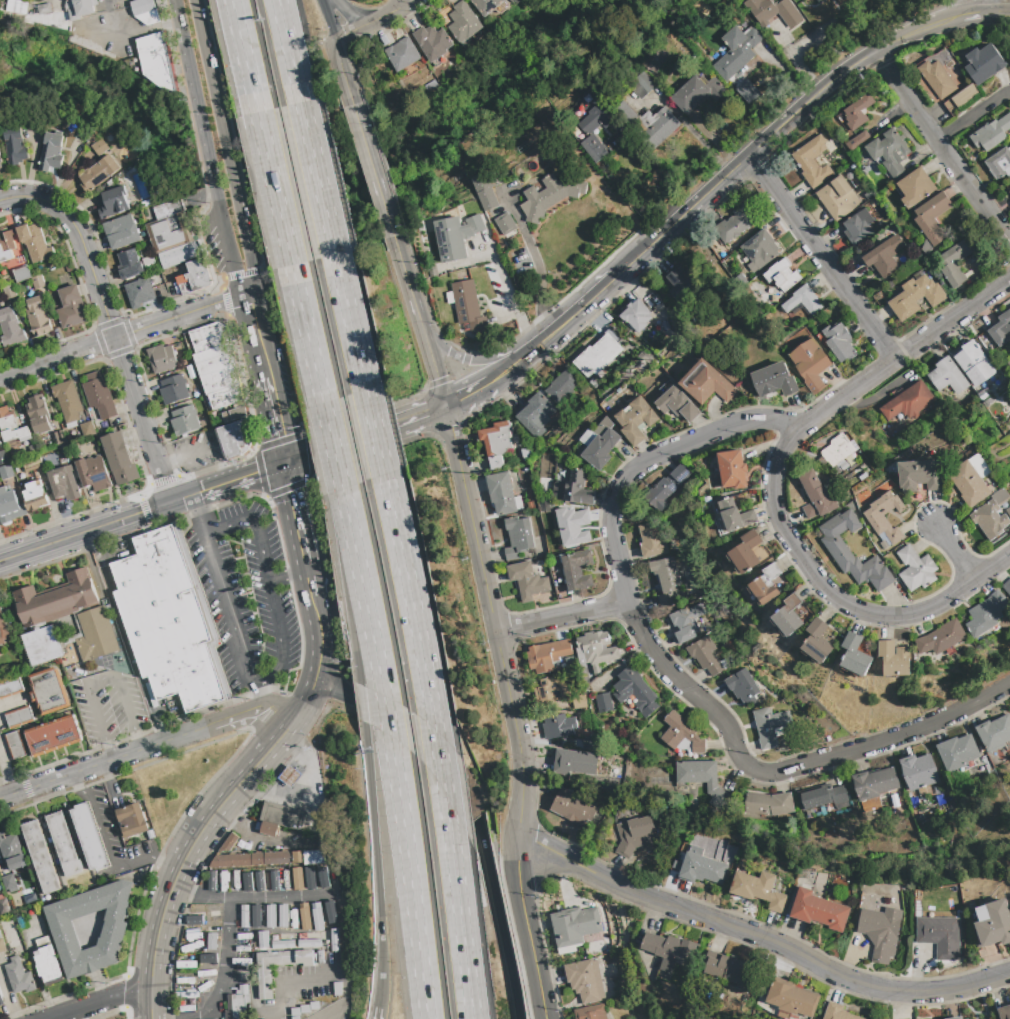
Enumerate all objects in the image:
building: (818, 0)
road: (411, 1)
road: (413, 1)
building: (53, 3)
road: (978, 5)
building: (486, 6)
building: (17, 7)
building: (142, 7)
building: (44, 9)
building: (82, 9)
road: (992, 11)
building: (773, 12)
road: (392, 13)
road: (966, 13)
road: (351, 15)
road: (330, 21)
building: (463, 22)
road: (354, 31)
road: (201, 44)
building: (433, 44)
road: (185, 46)
road: (289, 50)
building: (737, 52)
building: (402, 54)
road: (244, 55)
building: (654, 60)
building: (158, 63)
building: (984, 63)
road: (345, 73)
building: (937, 78)
building: (645, 82)
building: (425, 88)
building: (746, 91)
building: (697, 93)
building: (962, 98)
building: (857, 112)
road: (973, 115)
building: (596, 119)
building: (657, 126)
road: (777, 128)
road: (220, 132)
building: (991, 133)
road: (205, 134)
building: (857, 140)
building: (15, 146)
building: (99, 147)
road: (942, 147)
building: (595, 150)
building: (52, 151)
building: (890, 152)
building: (814, 158)
building: (1, 163)
building: (1000, 165)
road: (372, 170)
road: (657, 171)
building: (98, 174)
road: (318, 178)
building: (915, 187)
road: (274, 188)
building: (1008, 192)
building: (549, 195)
building: (837, 197)
building: (112, 202)
building: (494, 204)
building: (931, 221)
building: (733, 225)
building: (170, 227)
building: (858, 227)
building: (122, 232)
road: (242, 233)
road: (227, 235)
building: (455, 236)
road: (82, 242)
building: (34, 243)
building: (714, 245)
building: (7, 246)
building: (759, 251)
building: (181, 254)
road: (824, 255)
building: (884, 256)
building: (21, 260)
building: (955, 262)
building: (130, 264)
building: (149, 264)
building: (22, 274)
building: (782, 276)
building: (195, 277)
building: (38, 282)
building: (680, 284)
road: (539, 285)
building: (139, 292)
building: (9, 293)
building: (915, 297)
building: (802, 301)
building: (71, 307)
road: (516, 307)
building: (658, 308)
building: (468, 309)
road: (578, 312)
road: (181, 315)
building: (37, 316)
building: (636, 316)
road: (419, 320)
road: (351, 321)
building: (665, 325)
building: (10, 328)
building: (1000, 329)
road: (307, 334)
road: (257, 335)
building: (210, 336)
building: (838, 342)
building: (597, 356)
road: (57, 357)
building: (162, 358)
road: (466, 359)
road: (522, 359)
building: (973, 363)
building: (810, 364)
building: (217, 367)
building: (946, 376)
road: (499, 377)
building: (773, 380)
building: (705, 383)
building: (562, 386)
building: (174, 389)
road: (467, 394)
building: (99, 396)
building: (226, 397)
building: (67, 400)
building: (906, 402)
building: (676, 404)
building: (234, 414)
building: (38, 415)
building: (535, 415)
road: (142, 420)
building: (635, 420)
building: (184, 421)
road: (276, 421)
road: (770, 421)
building: (12, 427)
building: (87, 429)
road: (375, 430)
road: (365, 433)
building: (58, 437)
building: (236, 439)
building: (496, 443)
road: (332, 446)
building: (600, 449)
road: (200, 451)
building: (835, 452)
building: (970, 452)
building: (526, 454)
building: (3, 458)
building: (119, 458)
building: (31, 463)
traffic signals: (286, 463)
building: (843, 466)
building: (731, 469)
building: (6, 472)
building: (94, 473)
building: (920, 475)
building: (862, 476)
road: (242, 477)
building: (973, 481)
building: (64, 483)
building: (666, 487)
building: (578, 489)
building: (558, 491)
building: (502, 494)
building: (36, 496)
building: (816, 496)
building: (10, 506)
road: (195, 510)
road: (295, 512)
building: (992, 515)
building: (732, 516)
building: (877, 521)
road: (99, 526)
building: (573, 526)
building: (518, 537)
building: (651, 540)
building: (884, 544)
building: (836, 547)
road: (955, 550)
building: (746, 552)
building: (916, 569)
building: (576, 570)
road: (309, 579)
building: (527, 580)
building: (667, 580)
road: (271, 586)
building: (765, 586)
building: (1007, 586)
road: (834, 597)
building: (56, 599)
road: (224, 603)
building: (986, 613)
road: (561, 616)
building: (791, 616)
building: (170, 620)
building: (686, 621)
building: (3, 630)
building: (96, 634)
road: (320, 637)
building: (942, 638)
building: (817, 642)
building: (44, 645)
building: (597, 649)
building: (705, 655)
building: (855, 655)
building: (551, 656)
building: (71, 659)
building: (895, 659)
road: (102, 677)
building: (742, 687)
building: (10, 688)
road: (335, 689)
building: (552, 690)
building: (48, 691)
building: (635, 691)
road: (261, 694)
road: (305, 702)
building: (579, 702)
building: (603, 703)
road: (11, 704)
road: (511, 710)
road: (278, 713)
road: (238, 717)
building: (19, 718)
road: (251, 721)
building: (768, 725)
building: (558, 726)
building: (994, 733)
building: (681, 734)
building: (53, 736)
building: (588, 743)
road: (437, 744)
building: (16, 745)
road: (367, 745)
road: (392, 752)
building: (958, 754)
road: (105, 762)
building: (574, 762)
road: (781, 770)
road: (7, 771)
building: (918, 771)
building: (289, 775)
building: (703, 780)
road: (78, 781)
building: (874, 783)
building: (821, 796)
building: (768, 804)
building: (572, 807)
building: (282, 815)
building: (132, 820)
building: (267, 828)
building: (635, 834)
building: (90, 837)
road: (267, 840)
building: (229, 843)
building: (64, 844)
road: (107, 844)
building: (12, 851)
road: (557, 853)
road: (186, 855)
building: (40, 857)
building: (297, 857)
building: (313, 857)
building: (252, 859)
road: (164, 864)
building: (702, 868)
building: (297, 878)
building: (36, 879)
building: (211, 881)
building: (275, 881)
building: (10, 884)
building: (759, 890)
road: (252, 899)
building: (4, 906)
building: (819, 910)
building: (194, 916)
building: (255, 916)
building: (245, 917)
road: (497, 920)
building: (21, 923)
building: (993, 923)
building: (305, 926)
building: (574, 927)
road: (343, 928)
building: (63, 931)
building: (880, 932)
building: (939, 936)
building: (0, 937)
building: (287, 937)
building: (335, 940)
building: (261, 942)
building: (283, 944)
building: (309, 944)
building: (2, 946)
building: (671, 951)
road: (799, 955)
building: (48, 962)
building: (244, 962)
road: (223, 969)
building: (730, 970)
building: (19, 977)
building: (585, 981)
building: (264, 983)
building: (337, 989)
building: (1, 999)
building: (792, 999)
road: (98, 1000)
building: (736, 1002)
building: (237, 1003)
building: (315, 1006)
building: (304, 1009)
road: (377, 1010)
building: (295, 1012)
building: (591, 1012)
building: (838, 1012)
building: (1004, 1012)
building: (956, 1018)

